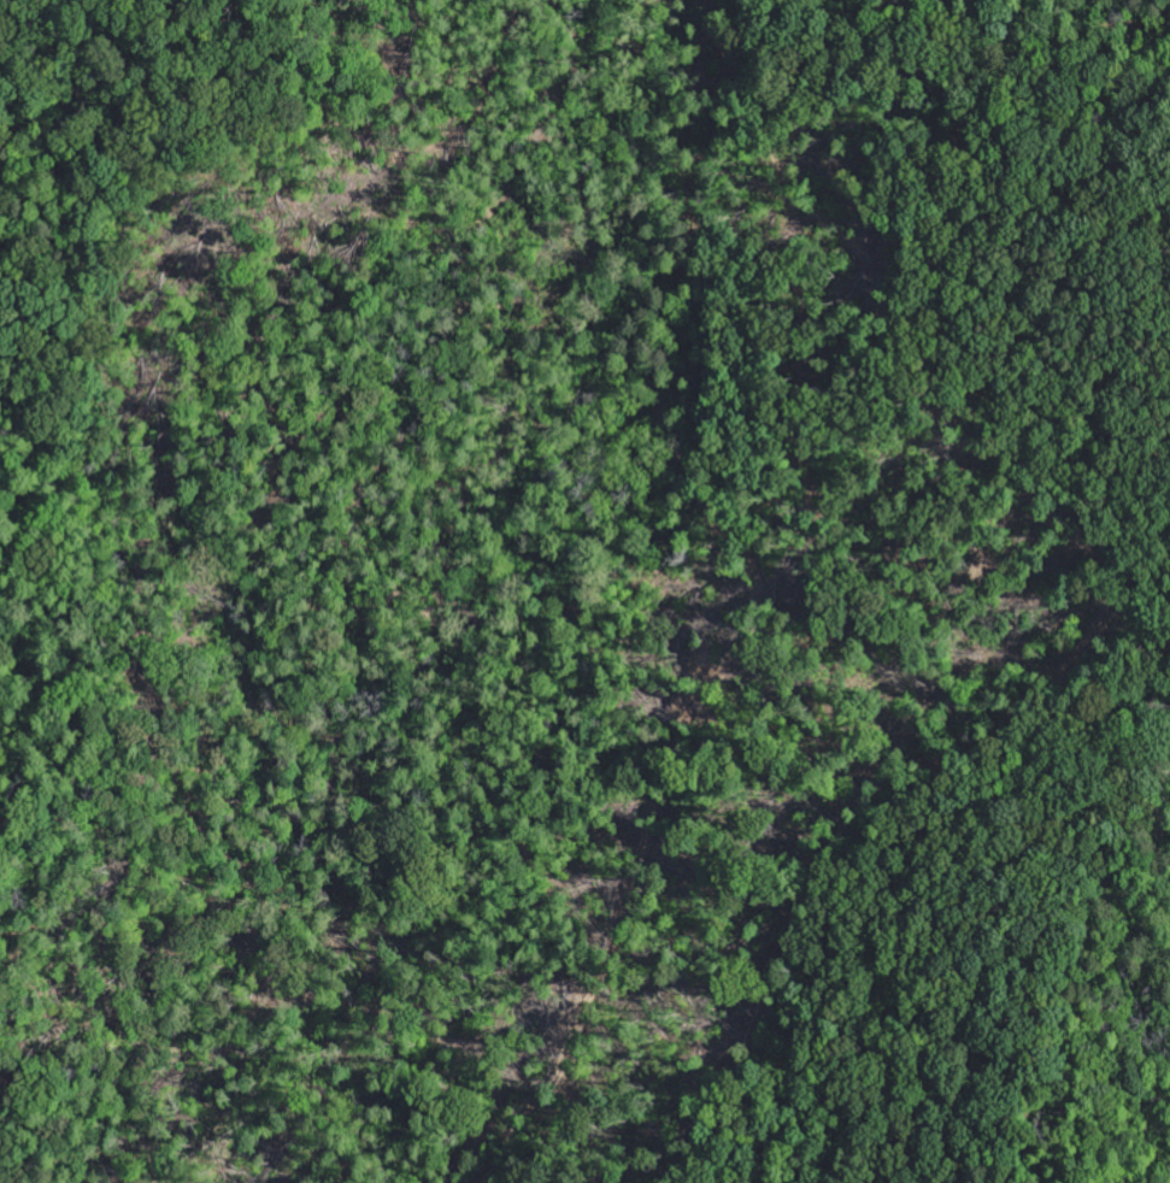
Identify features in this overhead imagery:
road: (1160, 836)
road: (1087, 1155)

